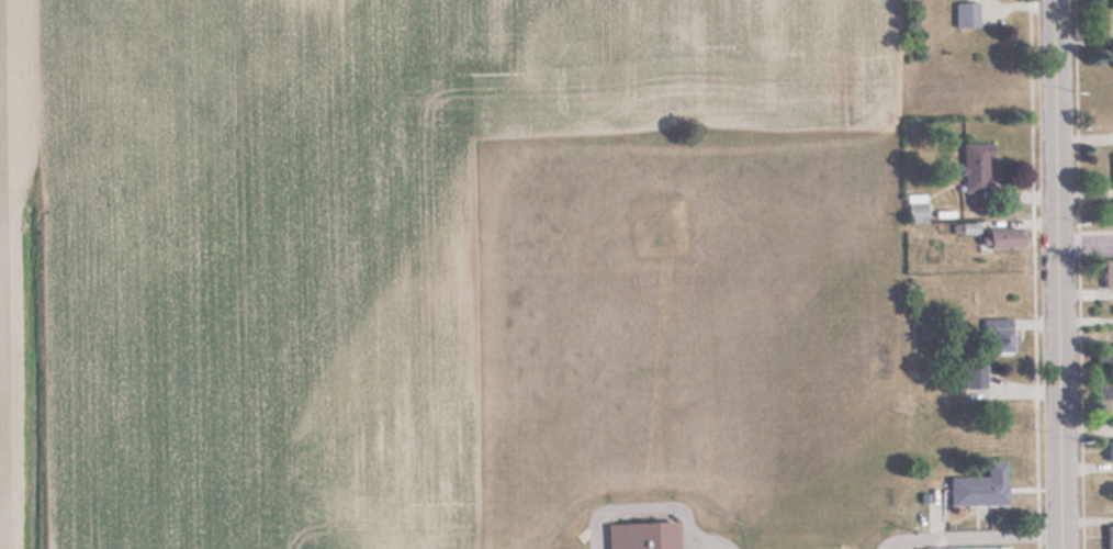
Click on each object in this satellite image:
building: (965, 14)
building: (974, 165)
building: (1112, 171)
building: (914, 209)
building: (998, 237)
road: (1084, 243)
building: (1106, 272)
road: (1057, 273)
building: (994, 334)
building: (1103, 352)
building: (974, 376)
building: (1103, 392)
building: (1110, 450)
building: (978, 486)
building: (640, 535)
building: (1109, 536)
building: (966, 548)

